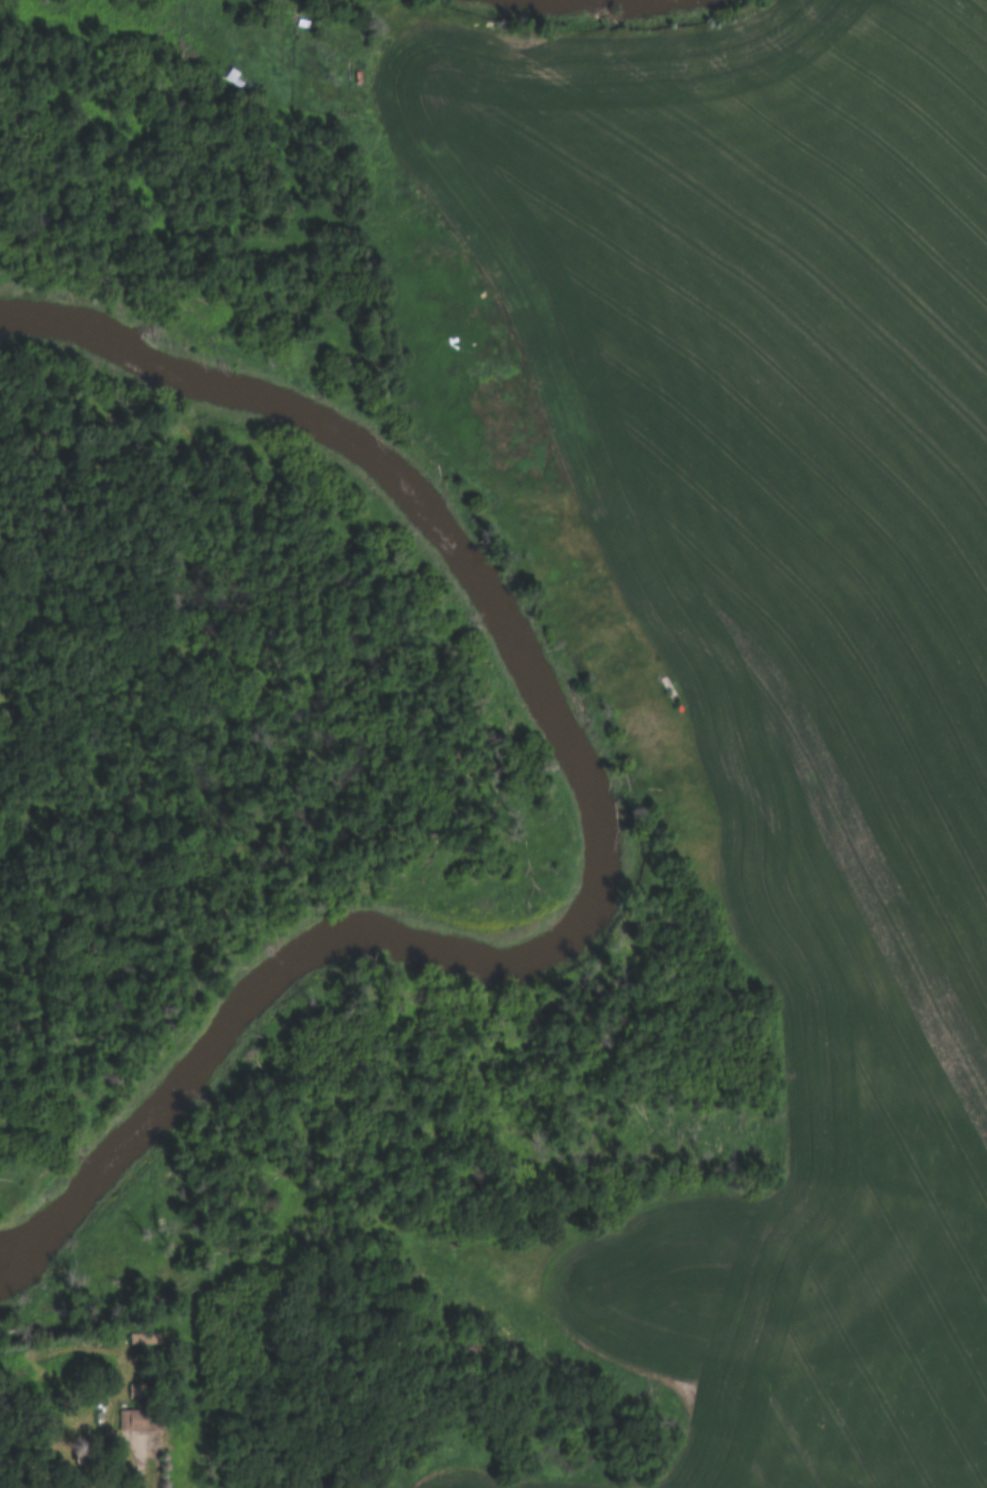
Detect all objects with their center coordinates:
road: (567, 42)
building: (242, 84)
river: (591, 822)
building: (133, 1391)
building: (136, 1420)
road: (150, 1447)

